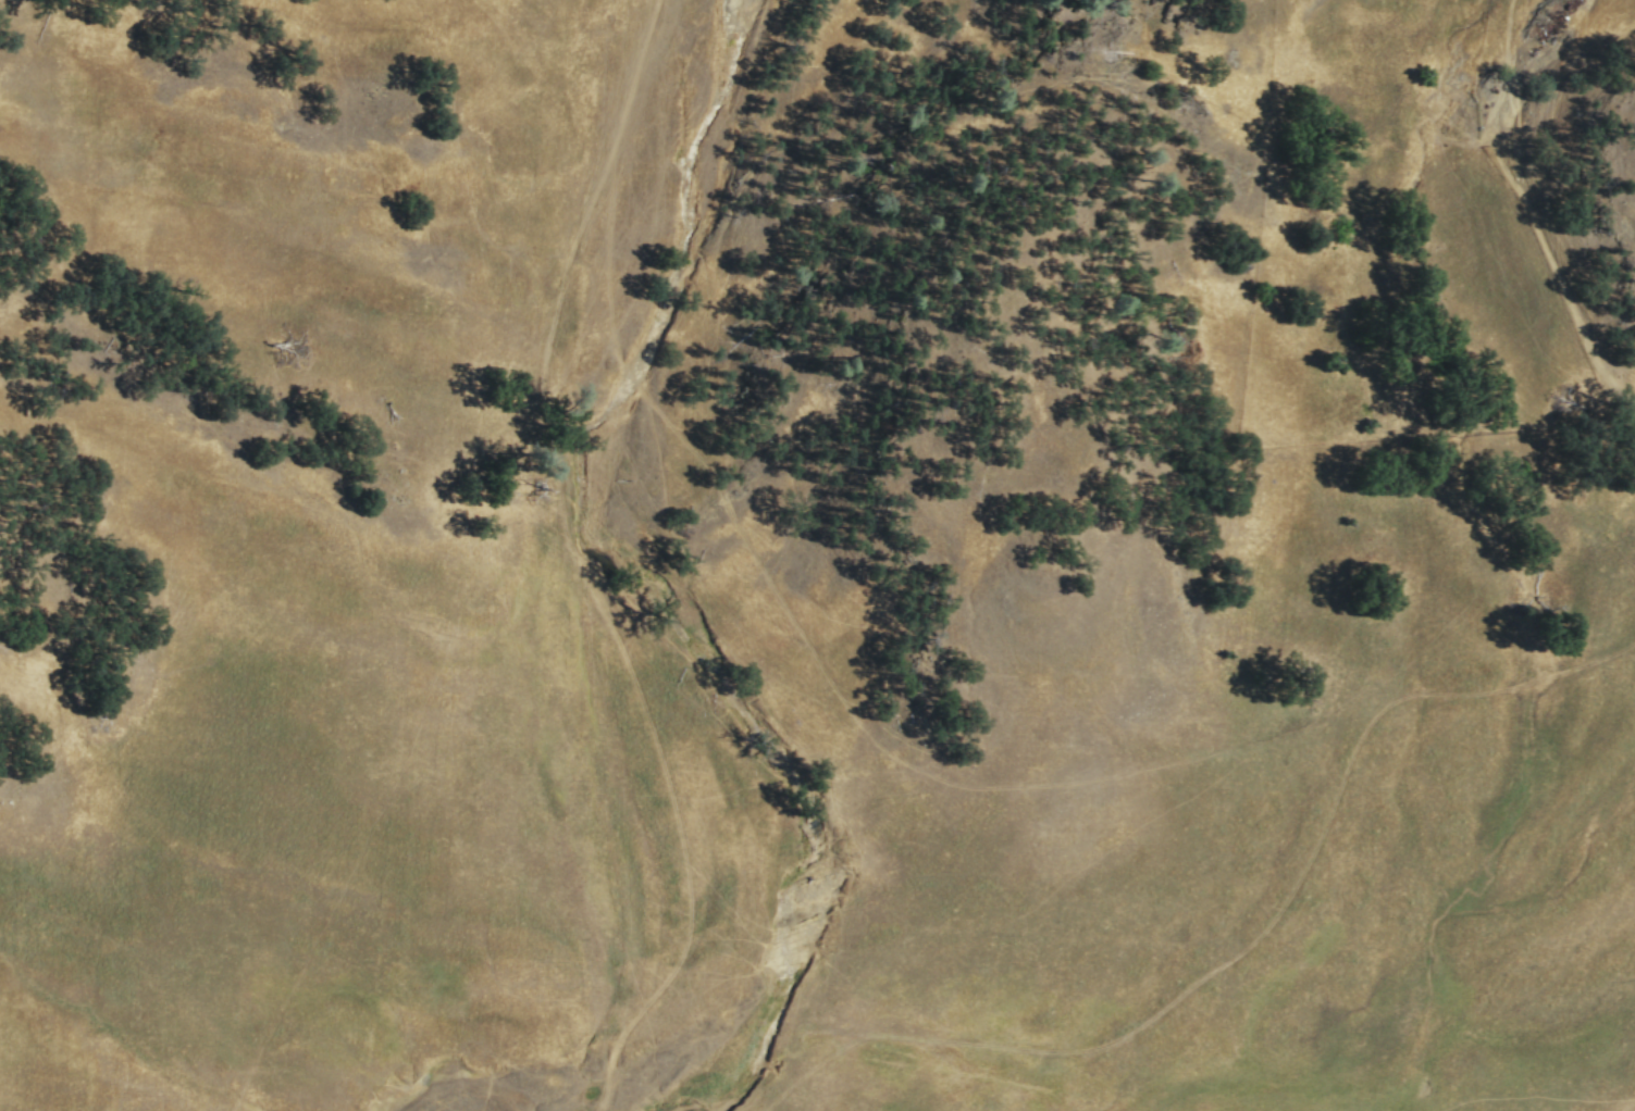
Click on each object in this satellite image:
road: (1532, 207)
road: (580, 565)
road: (1238, 960)

